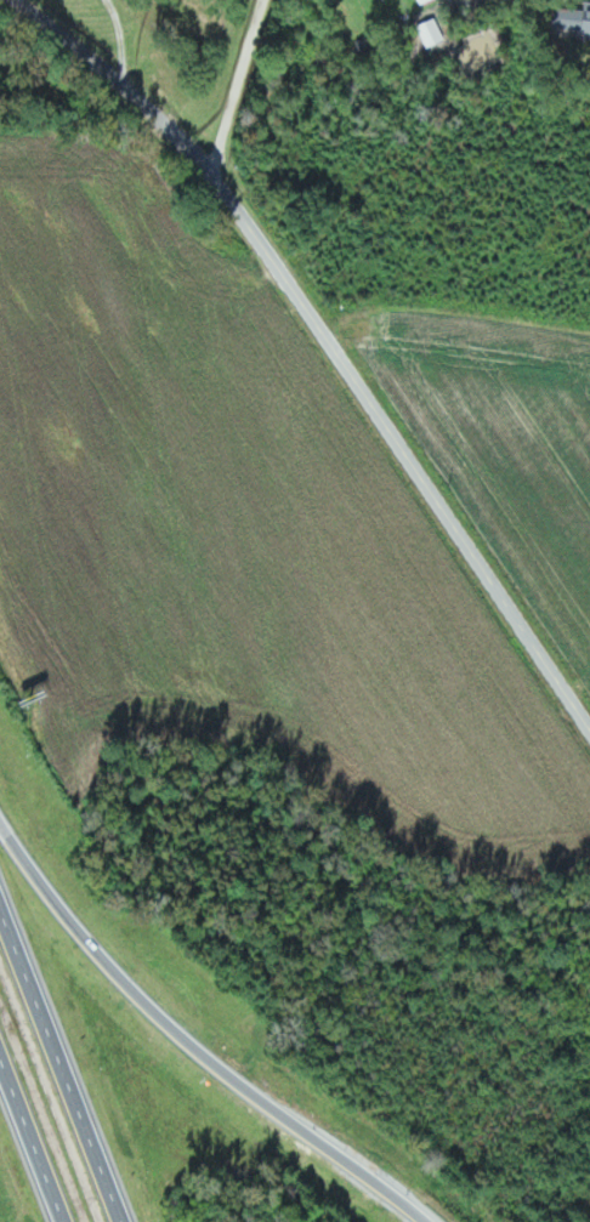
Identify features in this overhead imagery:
building: (426, 1)
building: (574, 18)
road: (228, 81)
road: (328, 341)
road: (191, 1041)
road: (62, 1059)
road: (33, 1135)

